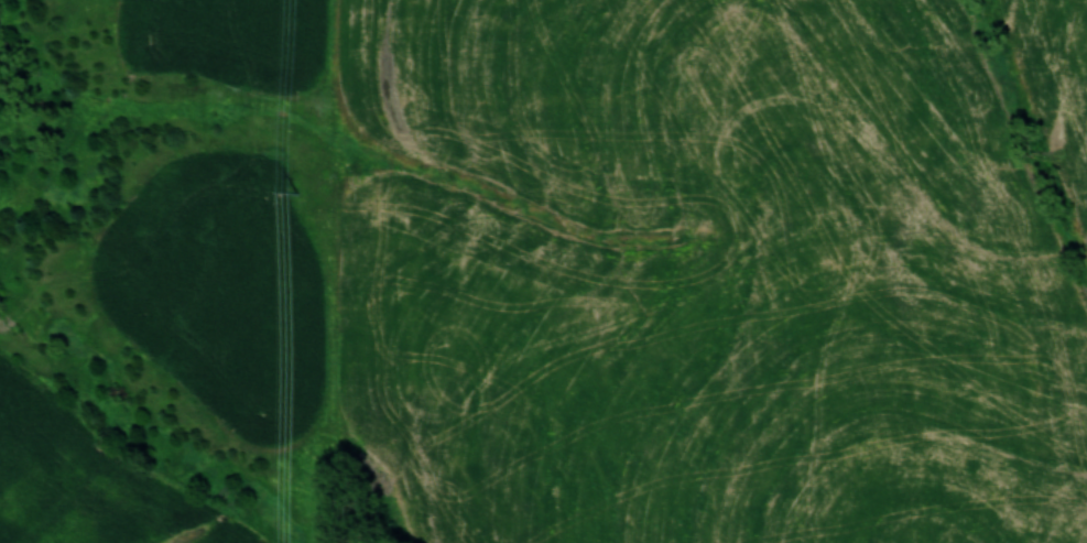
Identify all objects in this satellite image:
power tower: (295, 193)

